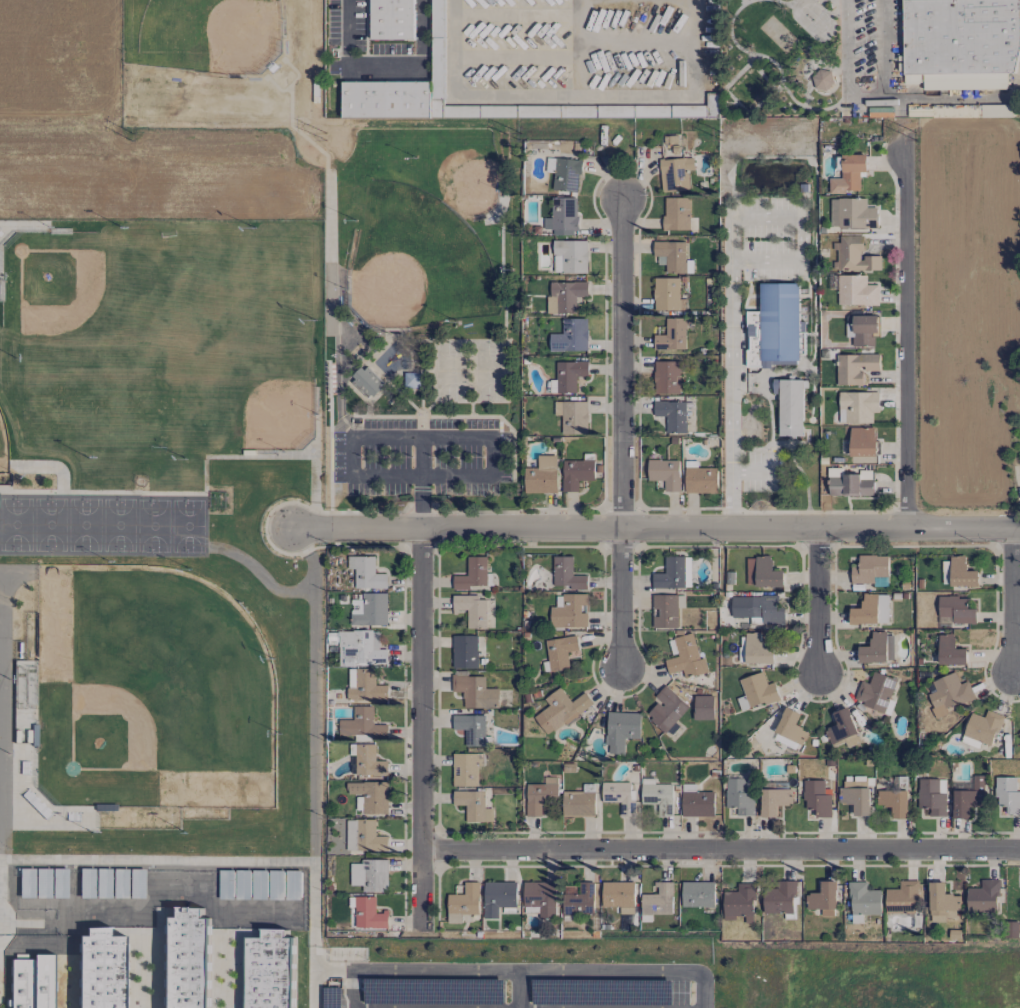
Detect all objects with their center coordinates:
building: (392, 19)
building: (437, 19)
building: (961, 43)
road: (383, 67)
building: (704, 109)
building: (564, 173)
building: (675, 173)
building: (849, 174)
building: (564, 213)
building: (676, 213)
building: (852, 213)
park: (365, 246)
building: (855, 255)
building: (570, 256)
building: (671, 256)
road: (730, 285)
building: (856, 290)
building: (667, 294)
building: (565, 296)
building: (774, 326)
building: (862, 330)
building: (671, 335)
building: (570, 336)
road: (905, 343)
building: (854, 367)
building: (569, 375)
building: (666, 377)
building: (411, 380)
building: (366, 382)
building: (789, 406)
building: (857, 407)
building: (671, 415)
building: (572, 416)
road: (622, 436)
building: (862, 441)
road: (422, 447)
building: (576, 473)
building: (665, 473)
building: (542, 475)
building: (700, 479)
road: (390, 480)
building: (851, 484)
road: (657, 527)
building: (869, 568)
building: (366, 572)
building: (946, 572)
building: (567, 573)
building: (673, 573)
building: (767, 573)
building: (962, 573)
building: (472, 575)
road: (1012, 600)
road: (819, 601)
building: (759, 608)
building: (370, 609)
building: (472, 610)
building: (871, 610)
building: (955, 610)
building: (569, 611)
building: (664, 611)
building: (361, 648)
building: (877, 648)
building: (757, 650)
building: (464, 651)
building: (950, 651)
building: (561, 652)
building: (686, 657)
building: (365, 685)
building: (758, 690)
building: (475, 691)
building: (875, 691)
building: (948, 694)
building: (703, 707)
building: (666, 709)
building: (561, 710)
building: (362, 723)
building: (983, 726)
road: (423, 727)
building: (791, 727)
building: (471, 729)
building: (842, 729)
building: (621, 730)
building: (1019, 731)
building: (367, 760)
building: (466, 769)
building: (1007, 794)
building: (540, 795)
building: (617, 795)
building: (657, 795)
building: (932, 795)
building: (739, 796)
building: (855, 796)
building: (375, 797)
building: (817, 798)
building: (968, 798)
building: (774, 800)
building: (894, 802)
building: (578, 803)
building: (697, 803)
building: (36, 804)
building: (473, 805)
building: (364, 836)
road: (722, 853)
building: (371, 875)
building: (698, 894)
building: (619, 896)
building: (498, 897)
building: (902, 897)
building: (983, 897)
building: (541, 898)
building: (579, 898)
building: (823, 899)
building: (658, 901)
building: (863, 901)
building: (463, 903)
building: (740, 903)
building: (942, 903)
building: (368, 913)
building: (185, 959)
building: (100, 969)
building: (270, 970)
road: (415, 971)
road: (626, 972)
building: (31, 982)
road: (517, 990)

